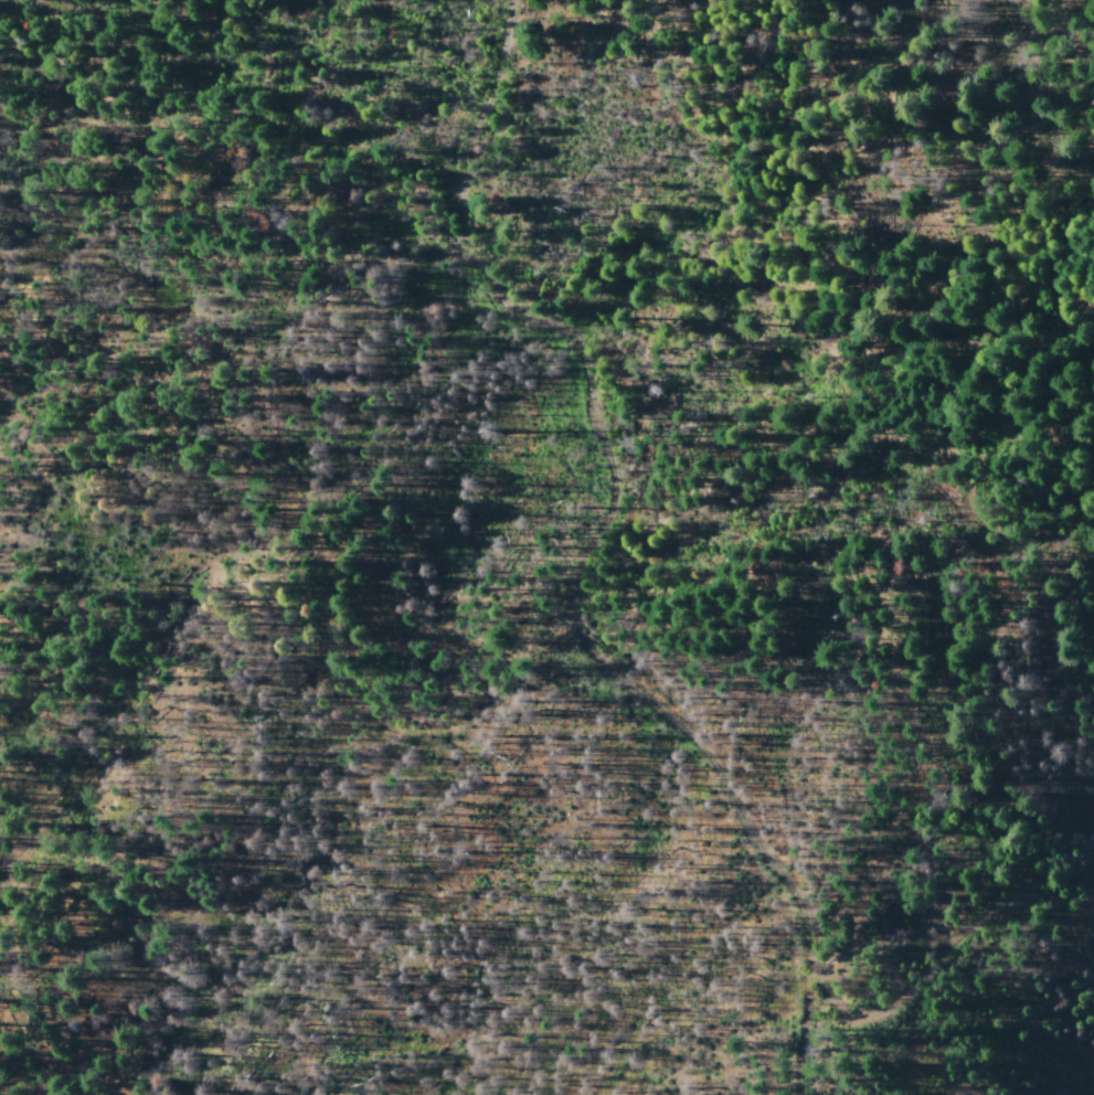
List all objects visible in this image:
road: (522, 310)
road: (737, 836)

